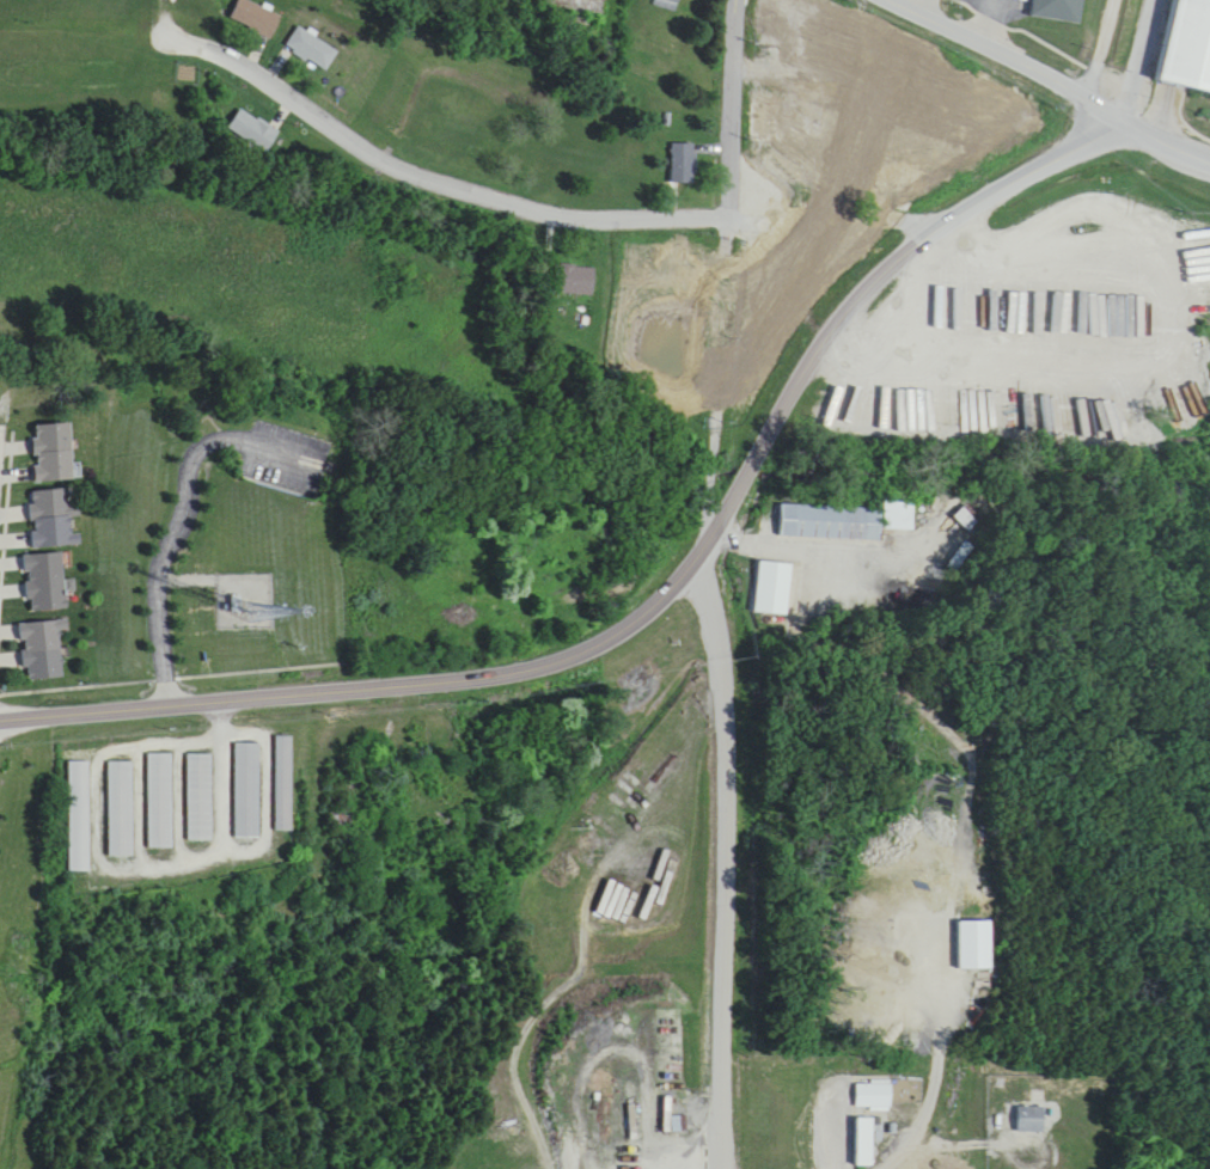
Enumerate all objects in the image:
building: (667, 4)
road: (924, 7)
building: (1058, 11)
building: (256, 18)
road: (980, 20)
building: (1178, 35)
building: (312, 49)
road: (1007, 56)
road: (1131, 56)
building: (163, 102)
road: (731, 109)
building: (766, 117)
building: (253, 130)
road: (1163, 137)
building: (683, 164)
road: (423, 175)
road: (825, 216)
building: (574, 281)
building: (51, 453)
building: (897, 516)
building: (54, 519)
building: (829, 522)
road: (164, 537)
building: (540, 573)
building: (47, 583)
building: (771, 588)
road: (659, 590)
building: (43, 651)
road: (721, 692)
building: (282, 783)
building: (246, 790)
building: (198, 797)
building: (159, 801)
building: (120, 809)
building: (79, 816)
road: (123, 865)
building: (873, 1096)
road: (921, 1118)
building: (1032, 1120)
road: (971, 1138)
building: (868, 1140)

